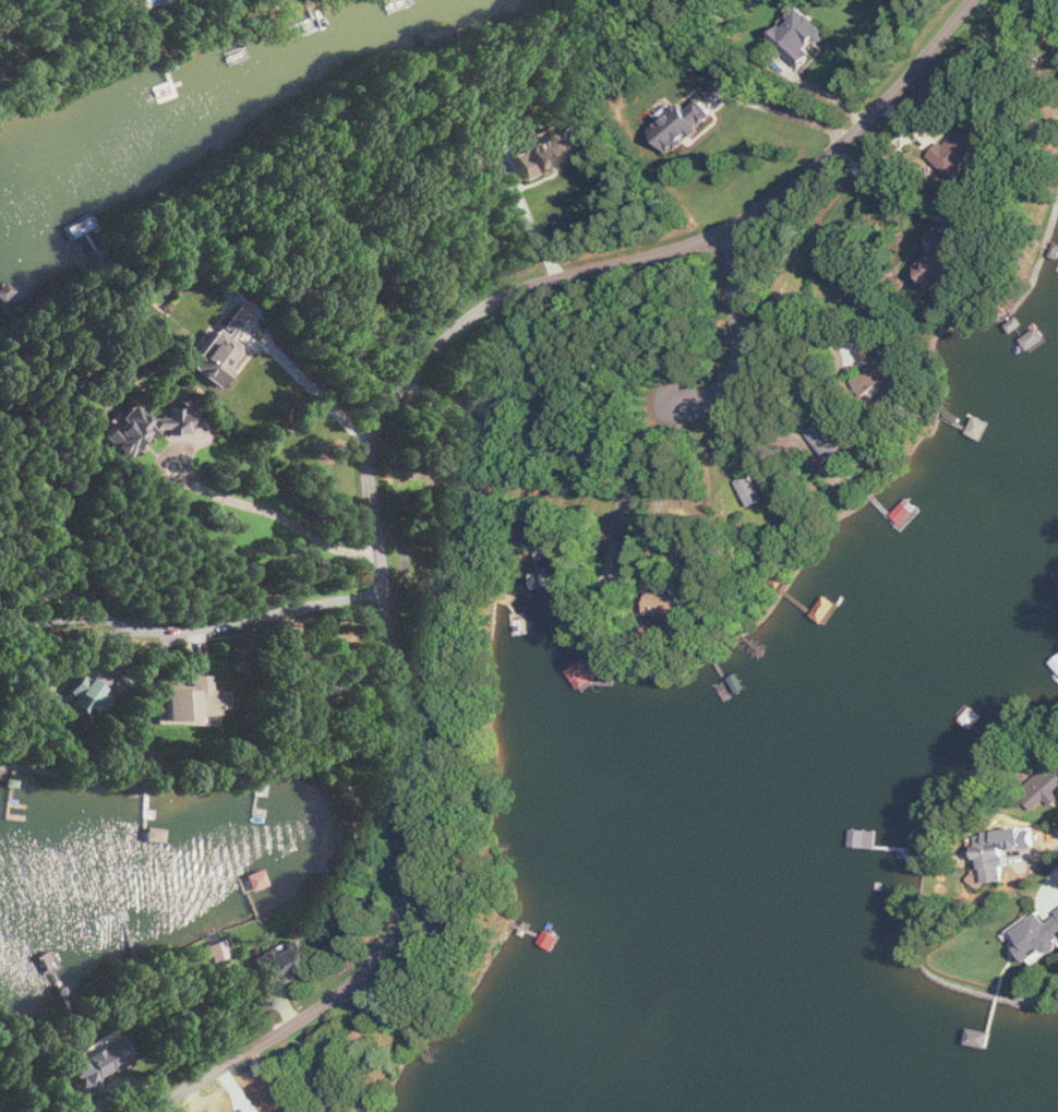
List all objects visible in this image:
building: (799, 37)
road: (779, 109)
building: (684, 125)
building: (959, 150)
building: (544, 154)
road: (886, 191)
building: (945, 261)
road: (786, 314)
road: (741, 333)
building: (221, 348)
road: (797, 362)
building: (882, 373)
road: (312, 387)
building: (495, 417)
building: (144, 430)
building: (829, 439)
road: (369, 453)
building: (753, 490)
road: (239, 501)
building: (625, 559)
building: (446, 576)
building: (669, 606)
road: (182, 626)
building: (585, 673)
building: (87, 697)
building: (191, 704)
building: (1044, 789)
road: (1046, 839)
building: (1000, 852)
building: (1037, 936)
building: (279, 962)
building: (100, 1063)

